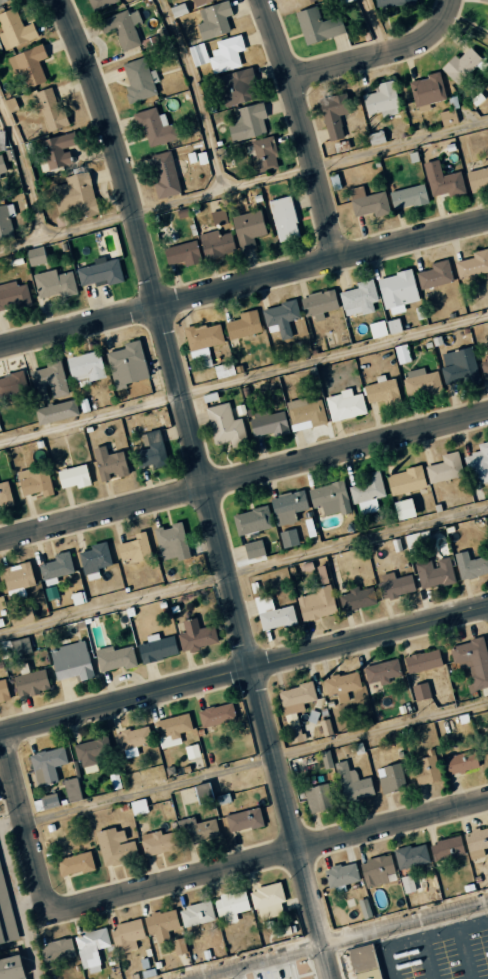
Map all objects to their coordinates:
building: (309, 0)
building: (483, 0)
building: (2, 1)
building: (201, 2)
building: (393, 2)
building: (178, 10)
building: (215, 18)
building: (487, 21)
building: (317, 25)
building: (121, 28)
building: (14, 29)
road: (376, 52)
building: (218, 54)
building: (29, 65)
building: (462, 65)
building: (137, 80)
building: (237, 87)
building: (426, 91)
road: (195, 95)
building: (381, 100)
building: (49, 109)
building: (332, 115)
building: (447, 117)
building: (247, 122)
building: (153, 127)
road: (300, 128)
building: (375, 138)
road: (400, 145)
building: (56, 150)
building: (264, 154)
building: (1, 166)
road: (27, 167)
building: (163, 174)
building: (477, 178)
building: (442, 180)
road: (224, 193)
building: (0, 195)
building: (74, 196)
building: (407, 197)
building: (366, 202)
building: (218, 216)
building: (283, 218)
building: (5, 221)
building: (248, 229)
road: (68, 233)
building: (215, 244)
building: (182, 253)
building: (35, 256)
building: (472, 264)
building: (99, 273)
building: (434, 275)
road: (244, 282)
building: (53, 284)
building: (396, 291)
building: (13, 295)
building: (357, 298)
building: (318, 304)
building: (280, 318)
building: (243, 325)
building: (393, 325)
building: (376, 329)
building: (201, 340)
building: (401, 353)
building: (126, 365)
building: (85, 366)
building: (459, 366)
building: (484, 367)
building: (223, 370)
building: (47, 381)
building: (420, 382)
building: (12, 384)
building: (382, 392)
building: (344, 405)
building: (55, 412)
building: (304, 414)
road: (91, 418)
building: (269, 424)
building: (225, 426)
building: (151, 451)
building: (478, 463)
building: (108, 464)
building: (444, 468)
building: (73, 476)
road: (244, 477)
building: (34, 481)
building: (405, 481)
road: (205, 486)
building: (367, 492)
building: (5, 495)
building: (329, 498)
building: (287, 506)
building: (403, 509)
building: (251, 521)
building: (288, 538)
building: (416, 539)
building: (171, 542)
building: (266, 546)
building: (134, 548)
building: (253, 549)
building: (94, 560)
building: (470, 565)
building: (55, 568)
building: (434, 572)
building: (321, 576)
building: (17, 579)
building: (395, 587)
building: (357, 598)
building: (316, 604)
road: (114, 605)
building: (272, 614)
building: (195, 635)
building: (21, 646)
building: (157, 648)
building: (114, 658)
building: (71, 661)
building: (422, 661)
building: (471, 663)
road: (244, 670)
building: (381, 671)
building: (30, 683)
building: (341, 685)
building: (3, 690)
building: (420, 691)
building: (295, 708)
building: (216, 715)
building: (171, 726)
building: (132, 738)
building: (487, 748)
building: (191, 751)
building: (91, 753)
building: (460, 762)
building: (46, 764)
building: (425, 770)
building: (390, 778)
building: (352, 784)
building: (71, 790)
road: (151, 790)
building: (201, 792)
building: (318, 797)
building: (137, 807)
building: (243, 819)
building: (196, 829)
road: (29, 830)
building: (157, 842)
building: (476, 842)
building: (114, 847)
building: (446, 850)
road: (282, 852)
building: (410, 856)
building: (74, 864)
building: (375, 869)
building: (340, 874)
building: (406, 883)
building: (266, 900)
building: (230, 905)
building: (364, 908)
building: (196, 914)
building: (6, 915)
road: (404, 923)
building: (160, 924)
building: (126, 936)
road: (422, 940)
building: (178, 946)
building: (91, 948)
building: (57, 955)
road: (255, 962)
building: (363, 962)
building: (11, 968)

